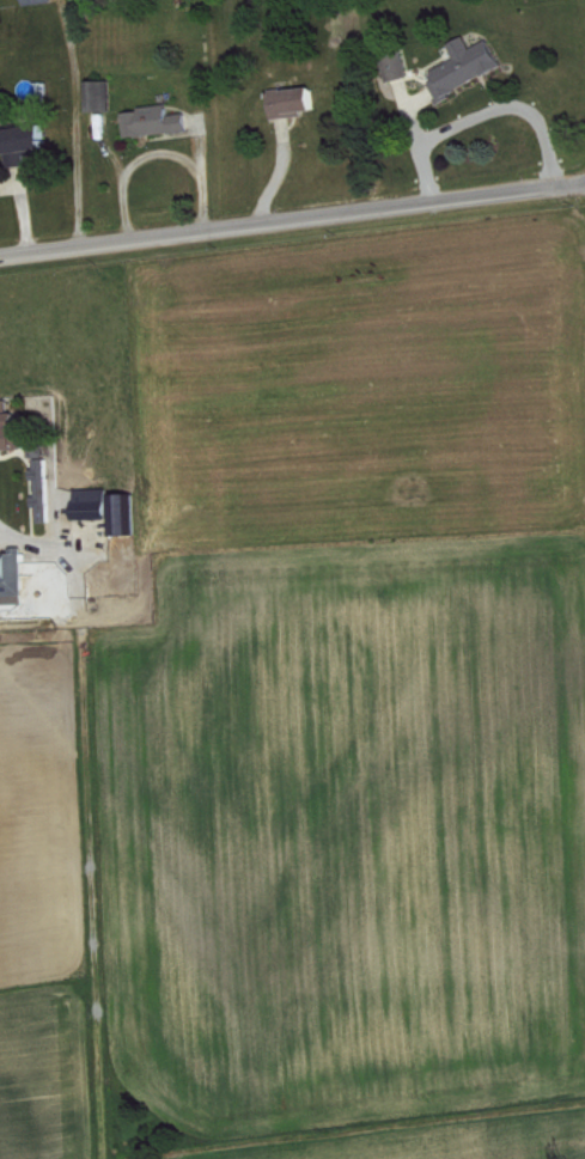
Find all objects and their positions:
building: (43, 1)
building: (403, 66)
building: (474, 67)
building: (105, 96)
building: (299, 102)
building: (159, 121)
building: (31, 144)
road: (292, 220)
building: (13, 427)
building: (49, 490)
building: (96, 504)
building: (126, 514)
building: (14, 573)

